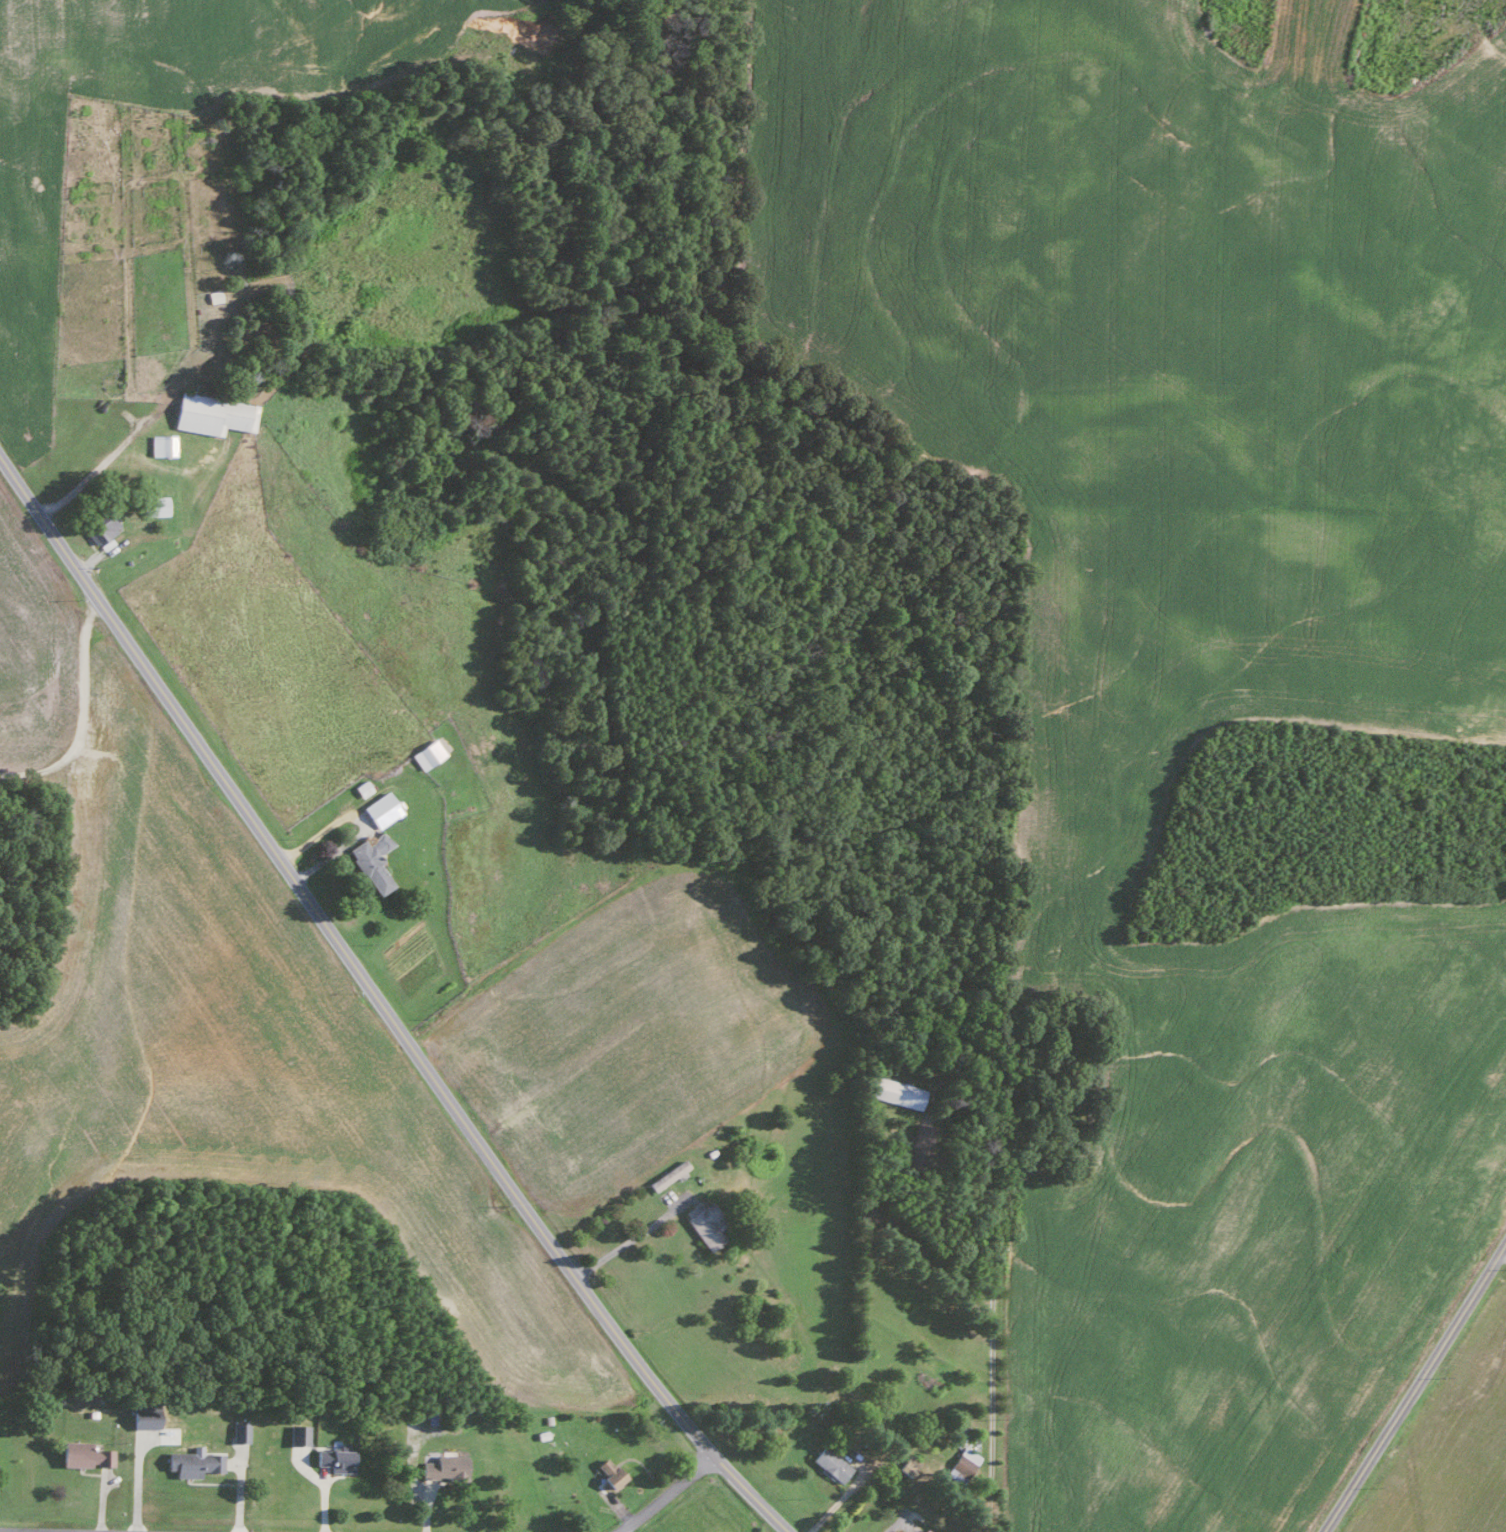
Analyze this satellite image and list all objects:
building: (210, 413)
building: (160, 444)
road: (91, 473)
building: (152, 505)
building: (99, 528)
building: (426, 753)
building: (380, 809)
road: (361, 820)
building: (370, 861)
road: (380, 1006)
building: (894, 1091)
building: (919, 1140)
building: (667, 1175)
building: (702, 1224)
road: (629, 1237)
road: (1501, 1249)
road: (992, 1302)
road: (1412, 1382)
building: (142, 1414)
building: (239, 1430)
building: (297, 1433)
building: (81, 1453)
building: (332, 1457)
building: (192, 1461)
building: (963, 1461)
building: (829, 1463)
building: (443, 1466)
building: (903, 1466)
building: (607, 1471)
road: (664, 1494)
road: (836, 1502)
road: (896, 1522)
road: (44, 1530)
building: (923, 1530)

